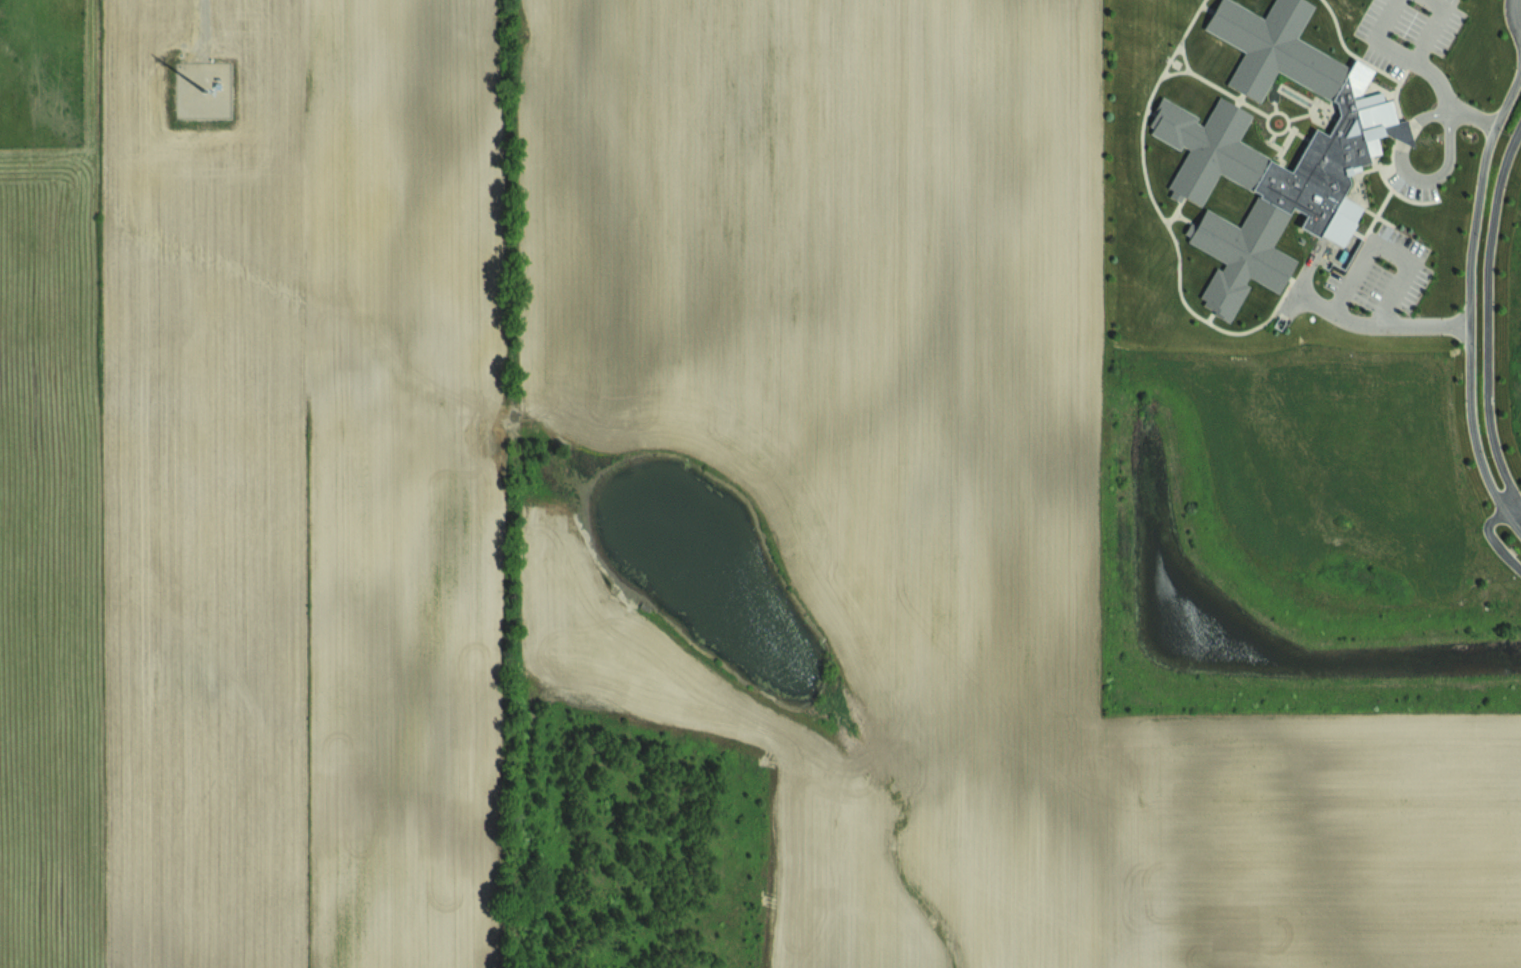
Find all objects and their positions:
road: (1510, 20)
road: (1430, 27)
road: (1374, 38)
road: (1448, 101)
road: (1451, 108)
road: (1419, 120)
road: (1406, 135)
building: (1228, 160)
road: (1428, 178)
road: (1344, 285)
road: (1469, 285)
road: (1487, 313)
road: (1493, 541)

